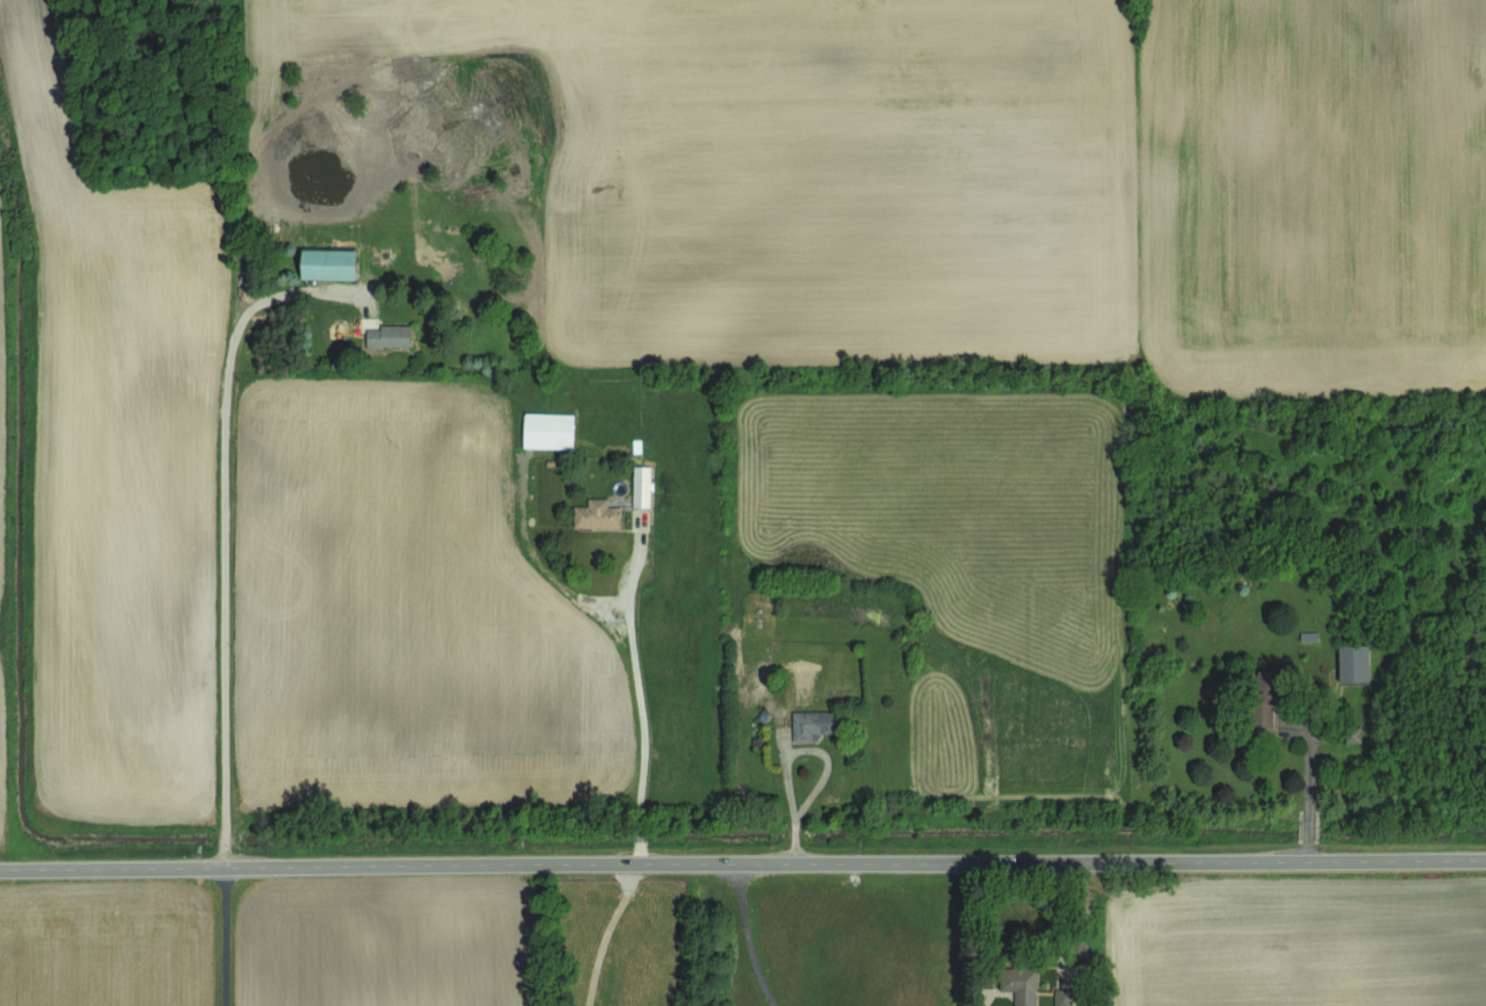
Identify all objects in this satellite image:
building: (328, 263)
building: (389, 335)
building: (548, 430)
road: (225, 530)
building: (1352, 663)
road: (639, 702)
building: (1262, 713)
building: (815, 723)
road: (1308, 757)
road: (826, 760)
road: (1308, 825)
road: (1307, 850)
road: (742, 862)
road: (608, 933)
road: (228, 935)
road: (745, 936)
road: (1069, 971)
building: (1025, 993)
building: (1062, 997)

